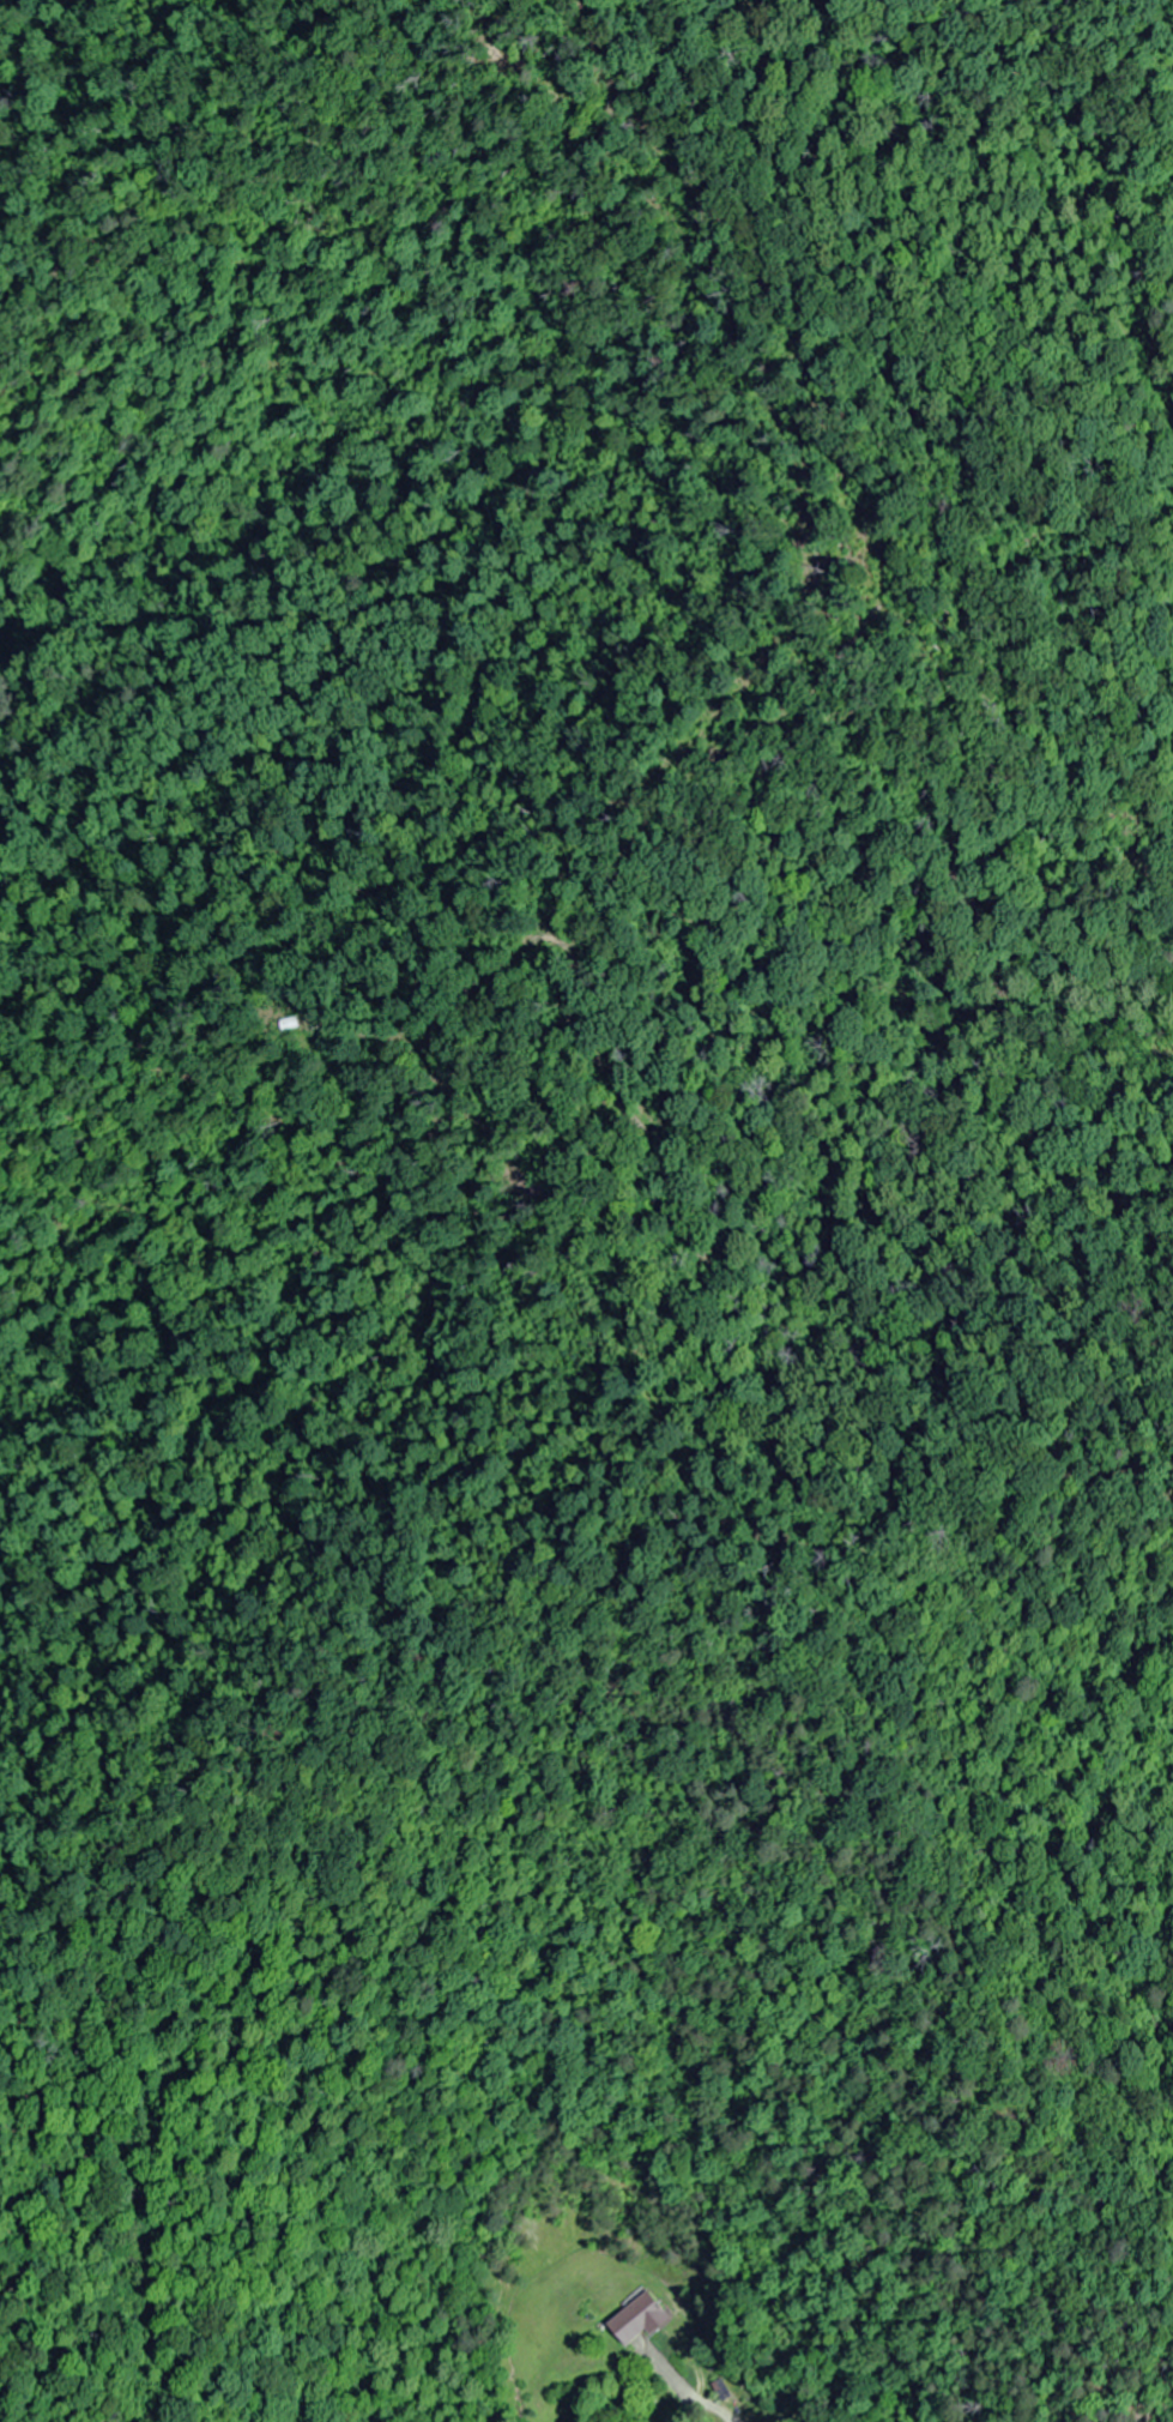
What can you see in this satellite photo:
building: (636, 2320)

